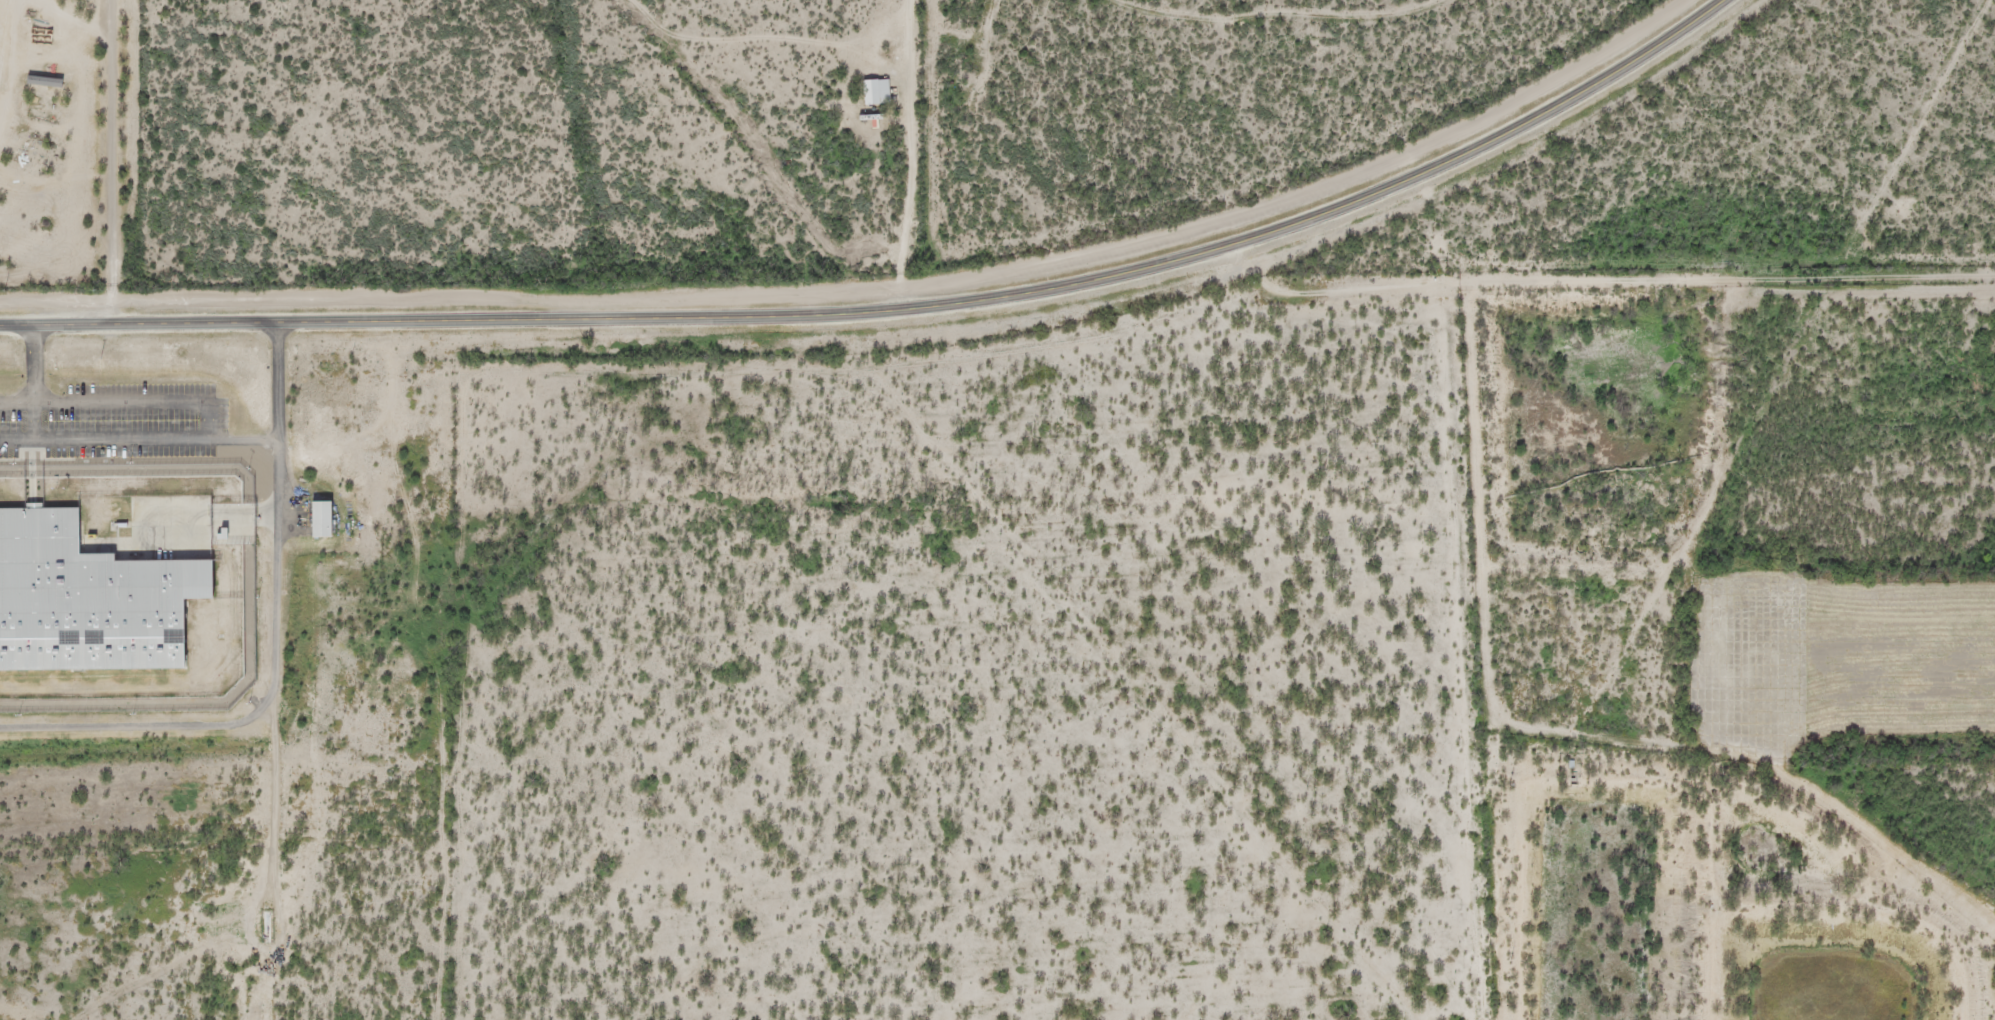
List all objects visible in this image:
building: (874, 91)
road: (752, 149)
road: (908, 153)
road: (134, 161)
road: (898, 306)
building: (318, 519)
airport: (1753, 543)
building: (81, 599)

